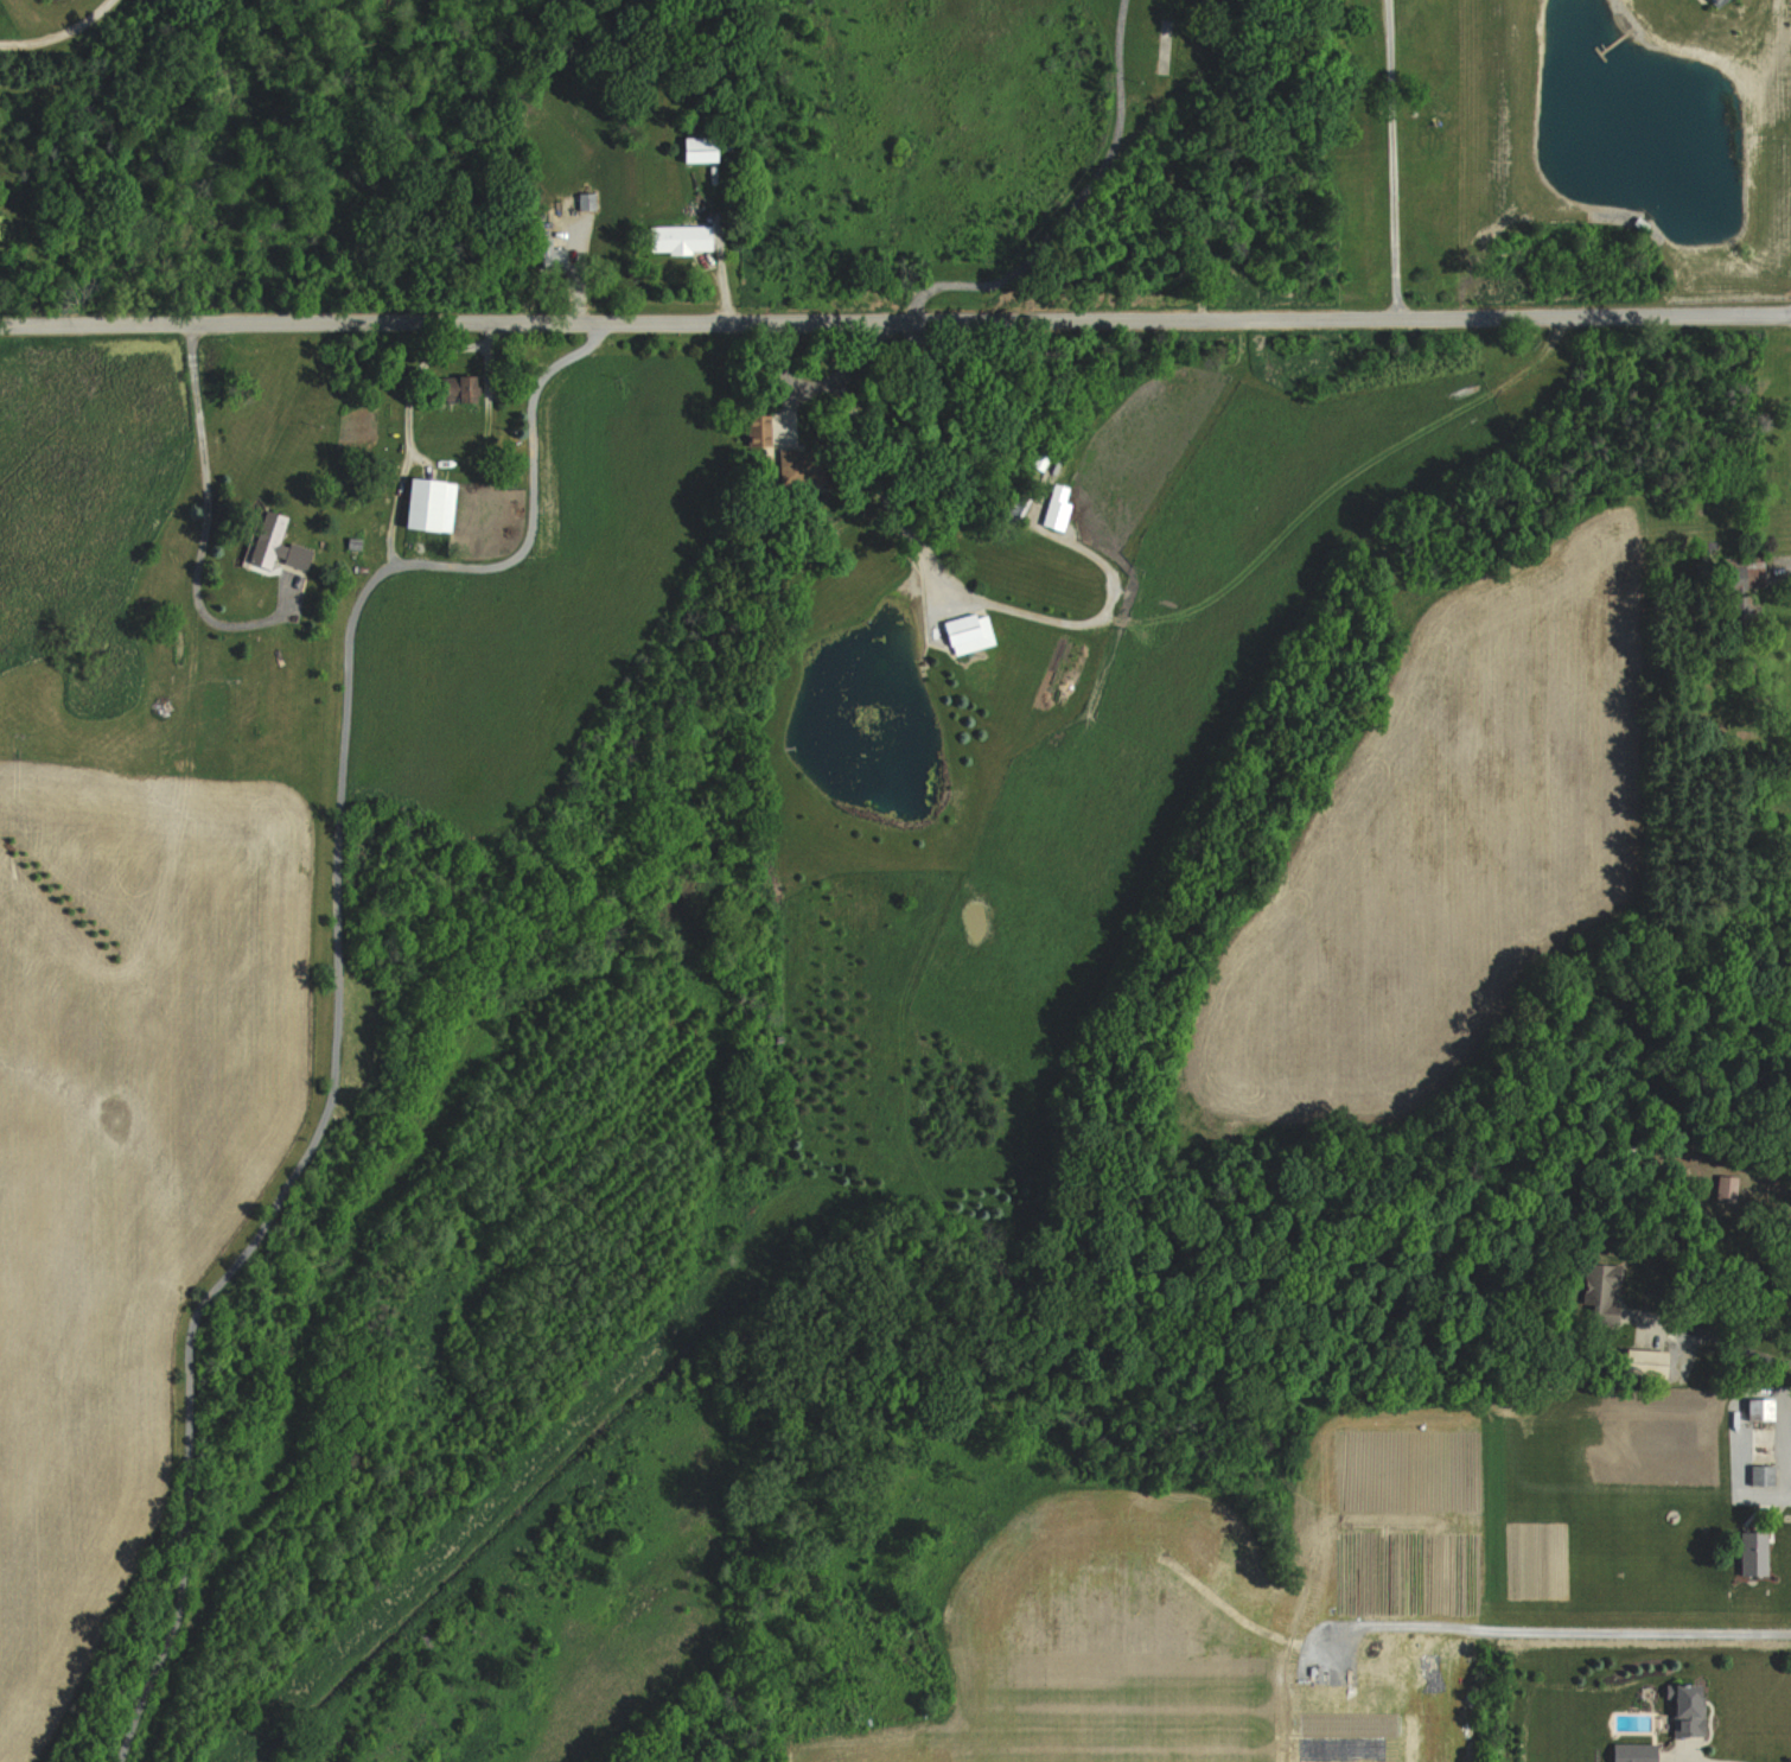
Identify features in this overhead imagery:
building: (1716, 1)
building: (705, 148)
road: (1392, 160)
building: (682, 238)
road: (894, 322)
road: (820, 386)
building: (457, 389)
building: (763, 428)
building: (799, 465)
building: (433, 504)
building: (1018, 508)
road: (204, 511)
building: (279, 545)
building: (1735, 575)
road: (960, 591)
building: (964, 629)
road: (339, 986)
building: (1599, 1290)
building: (1650, 1360)
building: (1764, 1410)
road: (1761, 1438)
road: (1738, 1445)
road: (1786, 1448)
road: (1789, 1461)
building: (1759, 1475)
building: (1755, 1553)
building: (1690, 1710)
building: (1636, 1753)
road: (1676, 1761)

